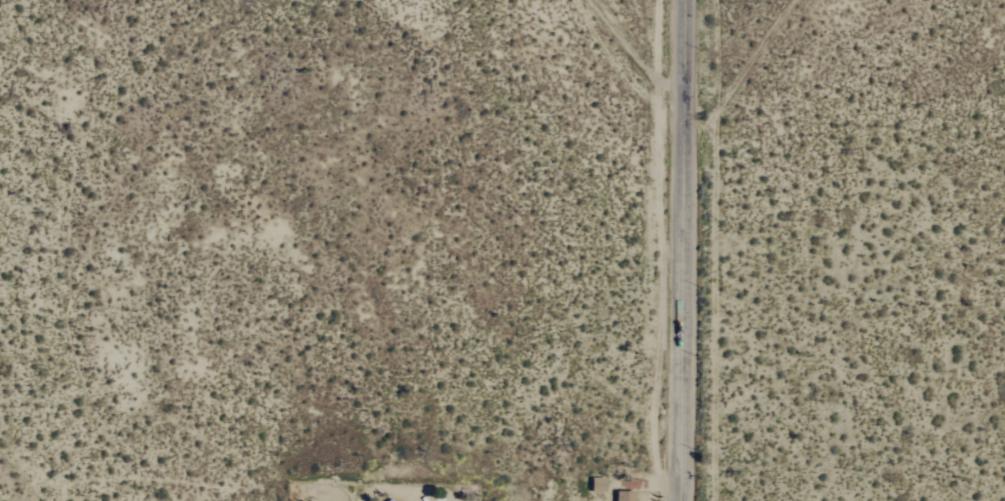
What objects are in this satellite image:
road: (683, 250)
building: (621, 496)

